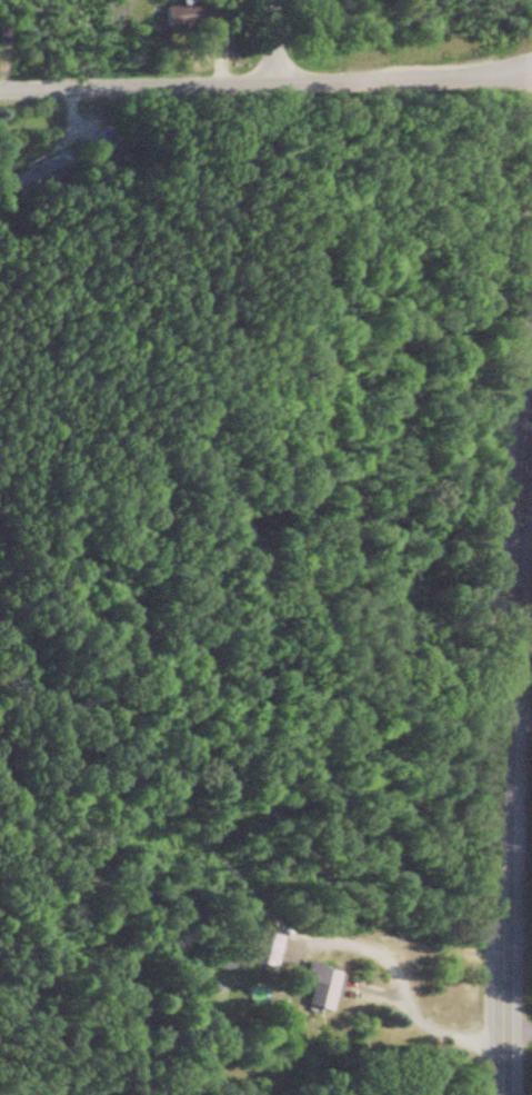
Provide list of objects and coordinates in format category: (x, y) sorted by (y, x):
building: (184, 14)
road: (277, 38)
road: (267, 77)
road: (525, 330)
road: (499, 665)
road: (515, 699)
building: (259, 949)
building: (310, 985)
road: (395, 992)
road: (514, 1033)

